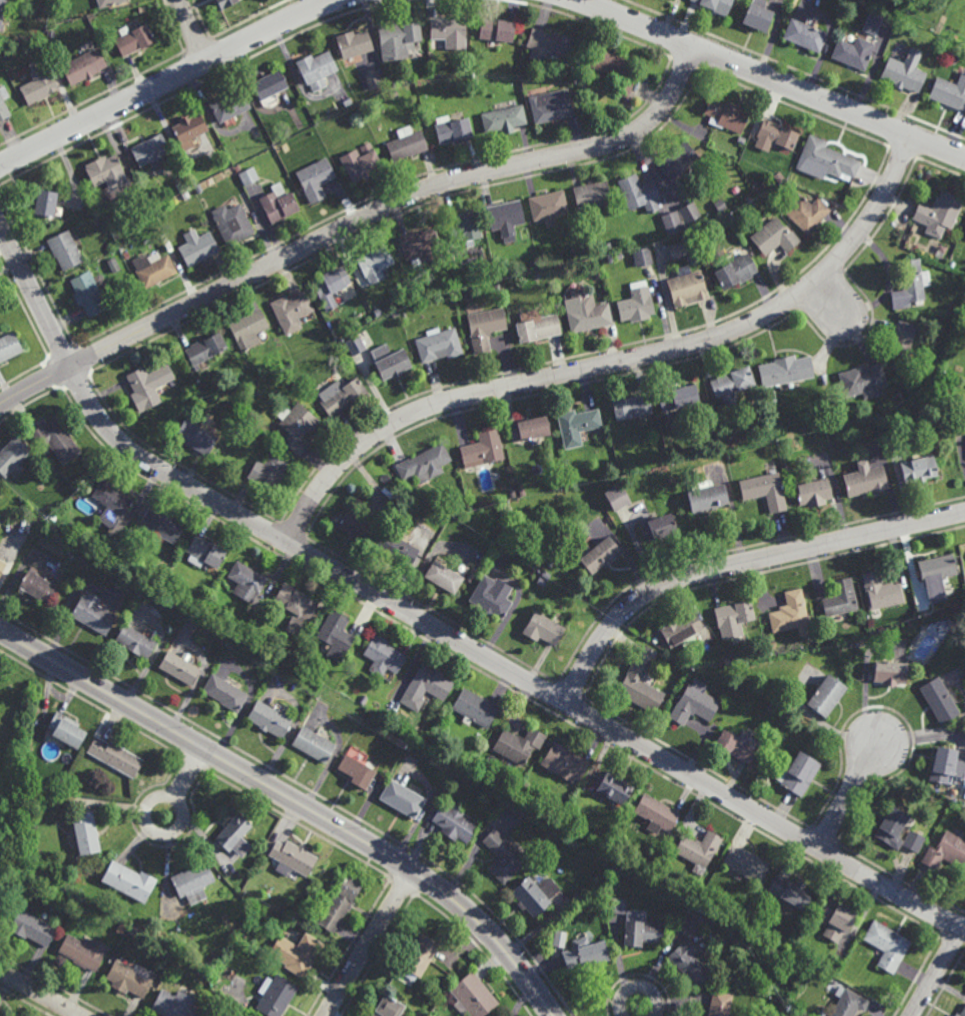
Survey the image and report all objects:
building: (107, 2)
building: (224, 2)
building: (716, 5)
building: (2, 12)
building: (758, 14)
building: (872, 23)
building: (447, 27)
building: (497, 28)
road: (192, 30)
building: (52, 32)
building: (806, 34)
building: (135, 37)
building: (397, 38)
building: (355, 43)
building: (548, 45)
building: (854, 51)
building: (85, 65)
building: (572, 67)
building: (316, 68)
building: (584, 69)
building: (614, 69)
building: (904, 70)
road: (771, 78)
building: (373, 79)
building: (474, 79)
road: (165, 81)
building: (40, 82)
building: (269, 84)
building: (949, 91)
building: (392, 92)
building: (3, 101)
building: (229, 104)
building: (551, 105)
building: (726, 114)
building: (504, 117)
building: (189, 128)
building: (451, 128)
building: (777, 134)
building: (742, 140)
building: (406, 142)
building: (286, 147)
building: (151, 149)
building: (827, 158)
building: (678, 160)
building: (360, 161)
building: (104, 169)
building: (248, 175)
building: (780, 175)
building: (315, 178)
building: (196, 187)
building: (639, 192)
building: (592, 195)
building: (177, 197)
building: (46, 201)
building: (278, 202)
building: (752, 202)
building: (548, 204)
building: (721, 204)
building: (690, 211)
building: (807, 211)
building: (938, 213)
building: (507, 218)
road: (355, 219)
building: (232, 222)
building: (672, 222)
building: (466, 226)
building: (775, 237)
building: (197, 246)
building: (423, 246)
building: (609, 247)
building: (941, 248)
building: (64, 249)
building: (678, 249)
building: (574, 251)
building: (125, 254)
building: (619, 254)
building: (643, 256)
building: (610, 257)
building: (376, 263)
building: (112, 264)
building: (535, 264)
building: (153, 268)
building: (737, 270)
building: (537, 275)
building: (447, 284)
building: (910, 284)
building: (330, 285)
building: (497, 287)
building: (688, 287)
building: (87, 292)
road: (828, 298)
building: (637, 303)
building: (292, 310)
building: (586, 310)
building: (378, 311)
building: (395, 313)
building: (537, 326)
building: (485, 327)
building: (249, 328)
building: (902, 338)
building: (355, 344)
building: (438, 344)
building: (9, 345)
building: (206, 350)
road: (616, 360)
building: (390, 361)
building: (787, 370)
building: (864, 381)
building: (148, 385)
building: (733, 385)
building: (194, 395)
building: (341, 395)
building: (680, 399)
building: (917, 403)
building: (632, 407)
building: (577, 425)
building: (296, 427)
building: (529, 429)
building: (196, 437)
building: (56, 439)
building: (483, 448)
building: (12, 455)
building: (424, 463)
building: (917, 470)
building: (268, 471)
building: (868, 482)
building: (522, 491)
building: (766, 492)
building: (511, 493)
building: (815, 493)
building: (618, 498)
building: (460, 499)
building: (709, 499)
building: (112, 504)
building: (54, 517)
building: (163, 522)
building: (355, 526)
building: (659, 530)
building: (396, 546)
building: (204, 549)
building: (601, 552)
building: (550, 562)
road: (737, 562)
building: (2, 564)
building: (935, 570)
building: (443, 575)
building: (470, 576)
building: (245, 579)
building: (38, 582)
building: (542, 582)
building: (881, 590)
building: (489, 597)
building: (839, 597)
building: (295, 606)
road: (511, 609)
building: (94, 610)
building: (791, 610)
building: (734, 617)
road: (434, 624)
building: (543, 628)
building: (682, 629)
building: (335, 634)
building: (135, 640)
building: (772, 644)
building: (732, 654)
building: (381, 655)
building: (727, 661)
building: (177, 665)
building: (887, 671)
building: (427, 684)
building: (640, 687)
building: (223, 692)
building: (824, 695)
building: (362, 699)
building: (938, 700)
building: (694, 703)
building: (771, 705)
building: (474, 707)
building: (396, 715)
building: (267, 718)
building: (67, 728)
building: (740, 742)
building: (311, 743)
building: (518, 744)
building: (113, 755)
building: (432, 759)
building: (565, 762)
building: (944, 764)
building: (354, 771)
building: (798, 773)
building: (614, 787)
road: (847, 794)
building: (401, 798)
road: (295, 800)
road: (147, 807)
building: (656, 813)
building: (453, 821)
building: (890, 827)
building: (87, 831)
building: (233, 834)
building: (912, 841)
building: (699, 850)
building: (945, 851)
building: (502, 856)
building: (290, 858)
building: (748, 864)
building: (241, 878)
building: (128, 881)
building: (191, 882)
building: (790, 892)
building: (534, 894)
building: (339, 903)
building: (617, 905)
building: (299, 916)
building: (834, 919)
building: (689, 926)
building: (32, 927)
building: (641, 929)
building: (239, 937)
building: (558, 938)
road: (369, 943)
building: (885, 945)
building: (85, 951)
building: (296, 953)
building: (585, 953)
building: (418, 956)
building: (689, 962)
road: (937, 971)
building: (129, 979)
road: (639, 985)
road: (42, 993)
building: (273, 995)
building: (472, 995)
building: (846, 1003)
building: (173, 1004)
building: (720, 1004)
building: (388, 1007)
building: (961, 1012)
building: (821, 1013)

